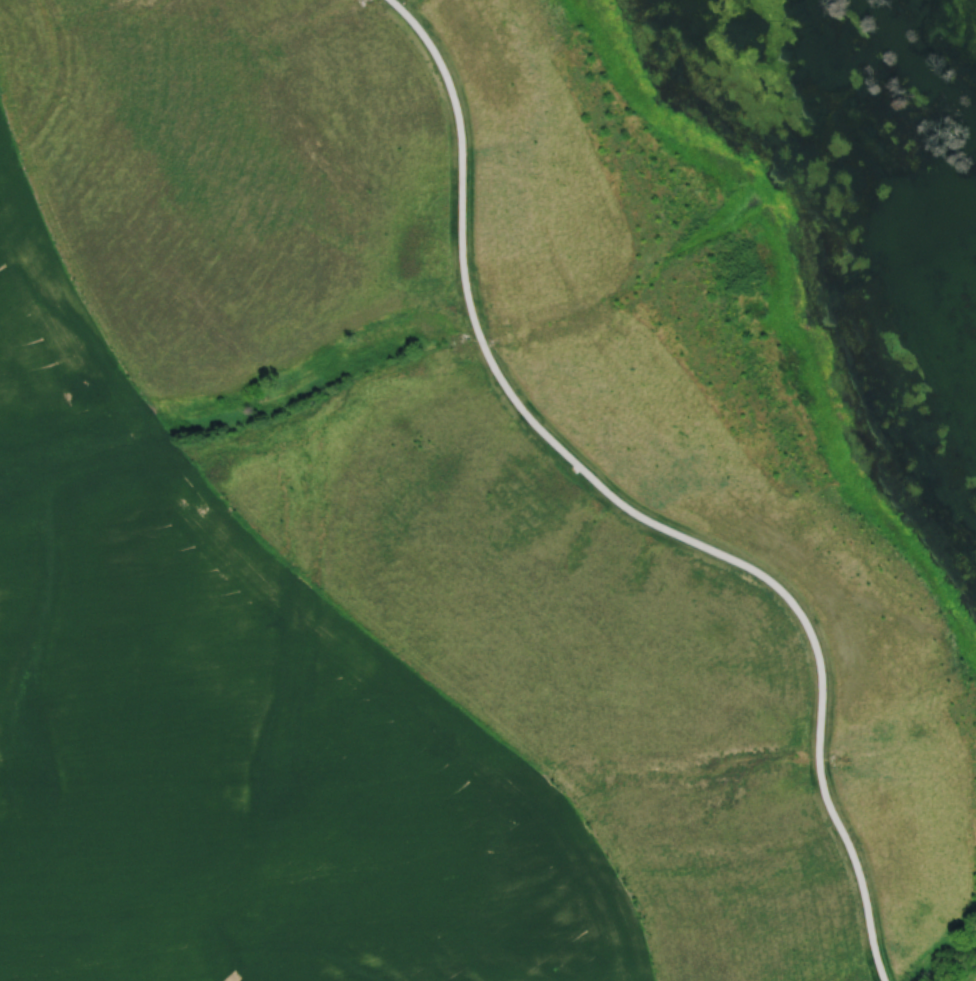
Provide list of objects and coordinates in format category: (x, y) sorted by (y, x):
road: (403, 3)
park: (589, 399)
road: (628, 506)

